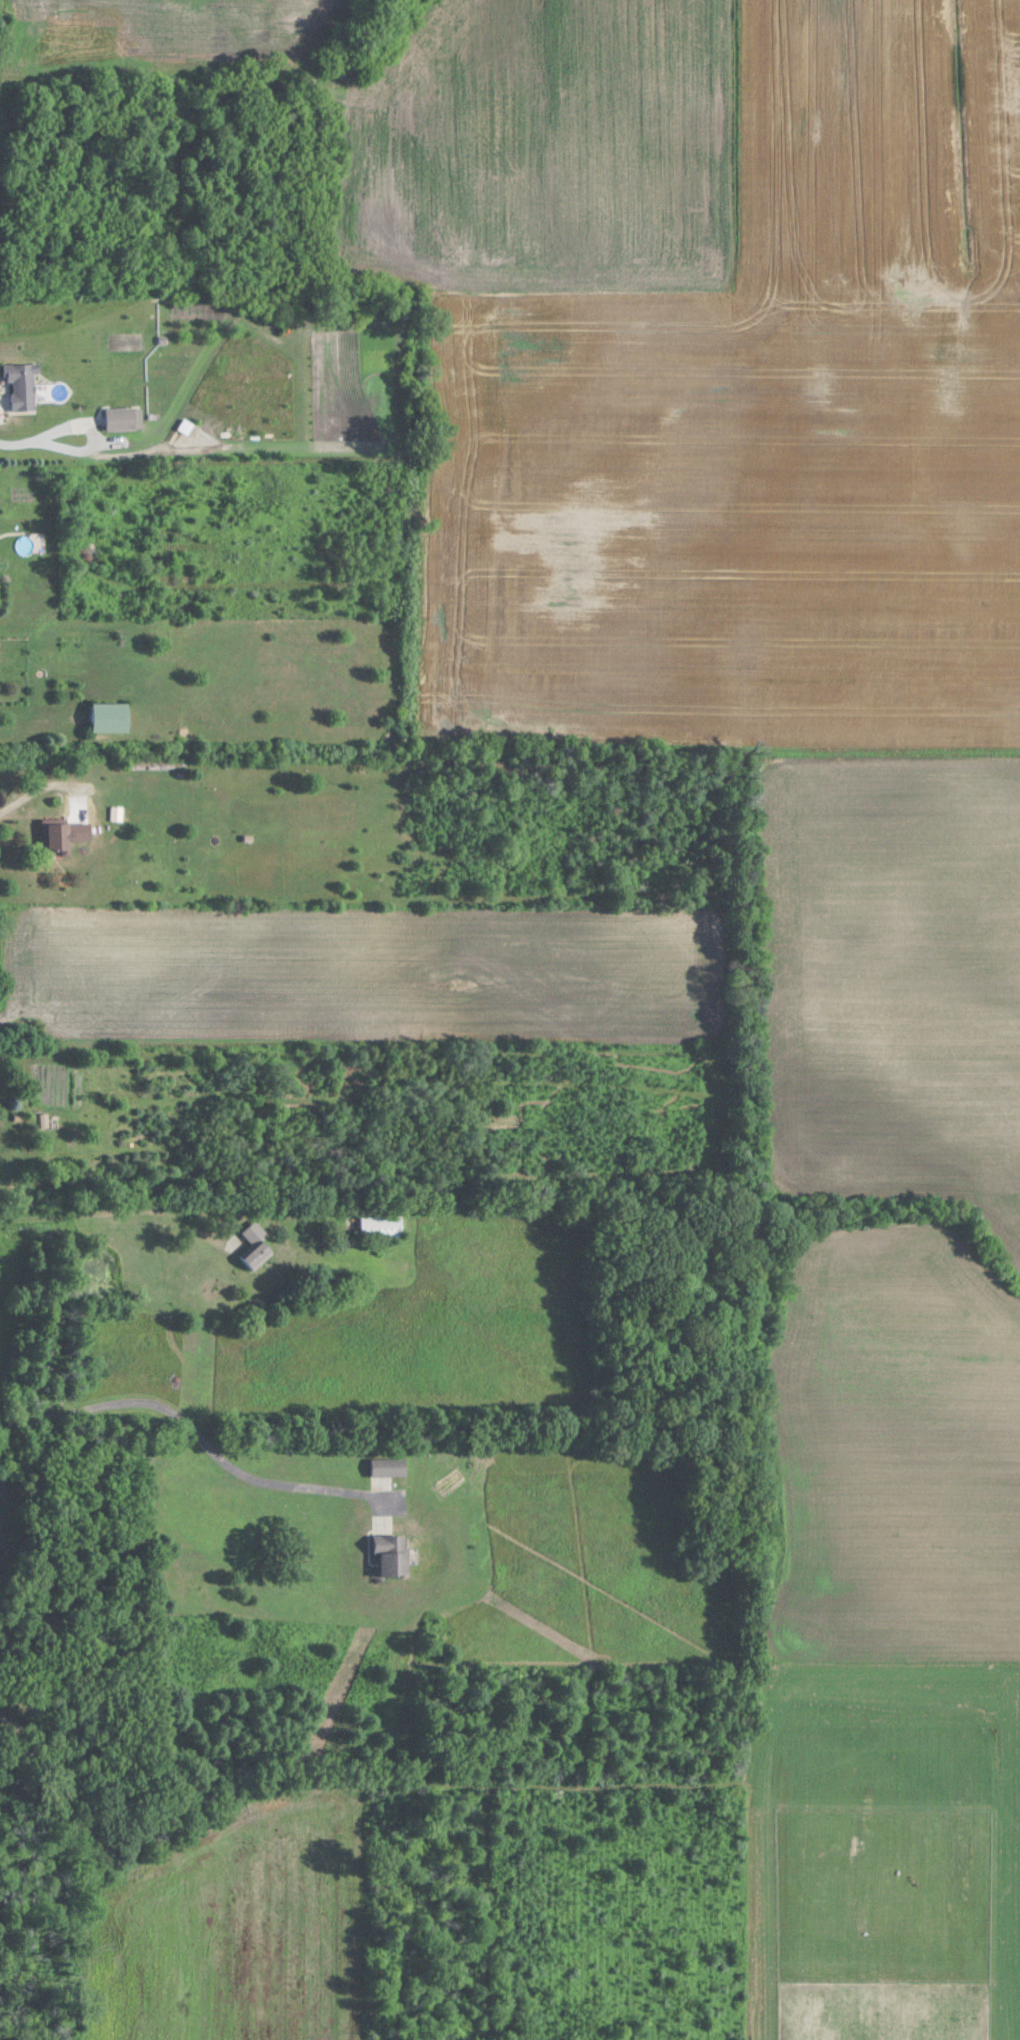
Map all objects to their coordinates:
building: (24, 385)
building: (124, 419)
building: (112, 717)
road: (37, 788)
building: (64, 836)
building: (382, 1226)
building: (258, 1244)
road: (193, 1445)
building: (389, 1466)
building: (394, 1554)

